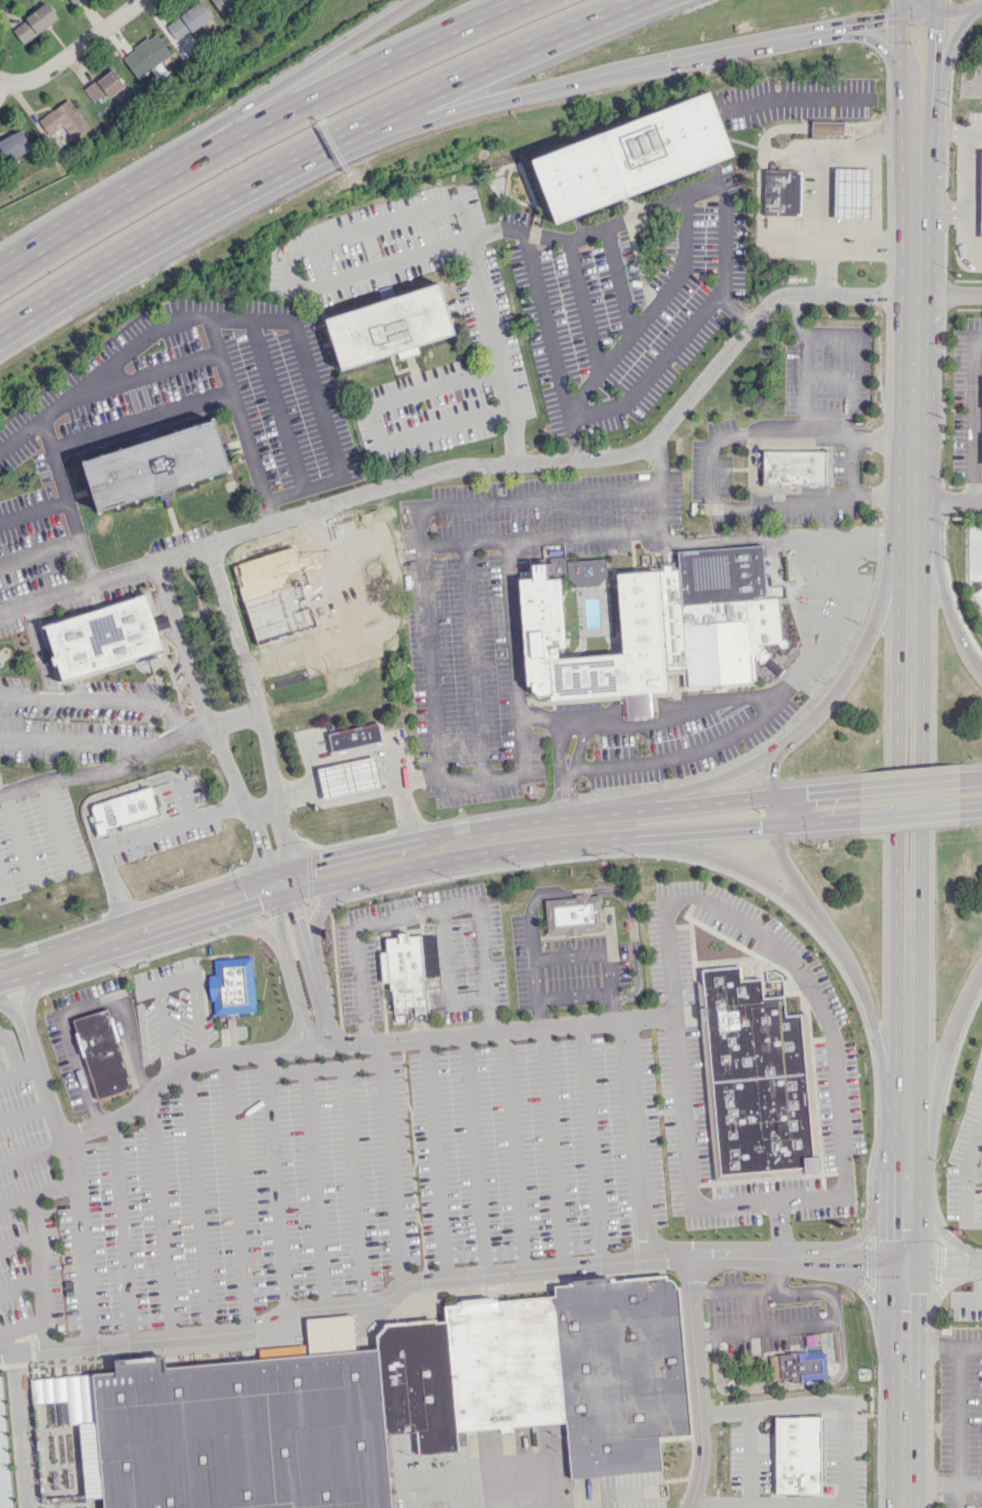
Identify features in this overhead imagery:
building: (74, 1)
road: (924, 1)
road: (927, 1)
road: (935, 4)
building: (225, 5)
road: (930, 5)
road: (898, 8)
road: (912, 11)
road: (959, 12)
traffic signals: (885, 19)
building: (188, 20)
road: (865, 21)
building: (34, 23)
traffic signals: (934, 30)
road: (872, 40)
building: (185, 44)
road: (898, 44)
road: (949, 46)
road: (74, 50)
building: (145, 55)
road: (508, 56)
park: (974, 58)
road: (605, 72)
road: (290, 78)
road: (348, 80)
road: (0, 81)
building: (104, 85)
road: (974, 90)
road: (930, 95)
building: (63, 120)
road: (899, 128)
building: (827, 129)
road: (955, 132)
building: (13, 145)
building: (631, 156)
road: (967, 172)
road: (825, 186)
road: (696, 191)
building: (781, 193)
building: (852, 193)
gas station: (967, 195)
building: (980, 196)
road: (967, 215)
road: (185, 217)
road: (87, 221)
road: (496, 233)
road: (868, 247)
road: (292, 259)
road: (624, 277)
road: (947, 295)
road: (590, 303)
road: (649, 314)
building: (390, 326)
road: (550, 345)
road: (497, 350)
road: (912, 354)
road: (305, 356)
road: (850, 360)
road: (654, 369)
road: (156, 371)
road: (99, 373)
road: (275, 404)
road: (972, 416)
road: (238, 420)
road: (140, 421)
road: (378, 423)
road: (882, 437)
road: (854, 438)
road: (718, 439)
building: (156, 465)
building: (794, 467)
road: (481, 468)
road: (302, 488)
road: (882, 492)
road: (840, 497)
road: (66, 499)
road: (519, 500)
road: (946, 500)
road: (33, 513)
road: (539, 538)
road: (708, 542)
road: (40, 553)
road: (909, 587)
road: (807, 601)
road: (945, 602)
road: (514, 628)
building: (590, 632)
building: (104, 637)
road: (862, 646)
road: (35, 651)
road: (429, 661)
road: (473, 662)
road: (793, 681)
road: (100, 701)
road: (258, 716)
road: (553, 719)
road: (921, 719)
road: (896, 720)
road: (212, 730)
building: (354, 737)
road: (72, 741)
road: (557, 745)
road: (579, 747)
road: (678, 756)
road: (131, 760)
road: (391, 762)
gas station: (351, 770)
traffic signals: (770, 775)
road: (507, 777)
building: (348, 778)
road: (416, 778)
road: (970, 778)
road: (908, 783)
road: (692, 785)
road: (107, 792)
road: (294, 792)
road: (565, 792)
traffic signals: (805, 792)
road: (774, 794)
road: (183, 800)
road: (259, 801)
road: (711, 803)
road: (970, 809)
building: (123, 810)
road: (405, 812)
road: (908, 815)
road: (839, 820)
road: (800, 823)
road: (55, 826)
traffic signals: (759, 827)
road: (564, 829)
road: (671, 833)
road: (129, 837)
road: (17, 838)
road: (376, 846)
road: (779, 852)
traffic signals: (261, 854)
traffic signals: (318, 860)
road: (379, 871)
road: (920, 879)
road: (895, 880)
traffic signals: (259, 902)
road: (625, 904)
building: (573, 914)
traffic signals: (295, 917)
road: (406, 918)
road: (819, 922)
road: (248, 923)
road: (115, 935)
road: (531, 938)
road: (482, 948)
road: (569, 957)
road: (17, 967)
road: (310, 969)
parking lot: (562, 969)
building: (403, 971)
road: (290, 972)
road: (27, 985)
building: (233, 986)
road: (200, 999)
road: (9, 1002)
road: (84, 1009)
road: (164, 1010)
road: (360, 1044)
road: (906, 1044)
road: (944, 1047)
building: (103, 1055)
road: (14, 1060)
road: (324, 1068)
road: (28, 1069)
building: (758, 1077)
road: (845, 1113)
road: (25, 1114)
parking lot: (417, 1122)
road: (979, 1132)
road: (592, 1145)
road: (906, 1145)
road: (552, 1149)
road: (31, 1151)
road: (514, 1152)
road: (636, 1152)
road: (476, 1155)
road: (435, 1159)
parking lot: (967, 1160)
road: (967, 1163)
road: (391, 1165)
road: (72, 1172)
road: (973, 1175)
road: (276, 1181)
road: (354, 1185)
road: (313, 1189)
road: (37, 1193)
road: (236, 1193)
road: (198, 1202)
road: (878, 1212)
road: (932, 1217)
road: (160, 1218)
road: (779, 1229)
road: (124, 1232)
road: (19, 1243)
road: (842, 1252)
road: (905, 1253)
road: (943, 1257)
traffic signals: (905, 1261)
road: (841, 1268)
road: (943, 1272)
road: (40, 1281)
road: (20, 1287)
road: (730, 1291)
road: (387, 1293)
road: (873, 1301)
road: (929, 1305)
road: (827, 1323)
road: (45, 1337)
road: (943, 1345)
building: (798, 1365)
building: (547, 1372)
road: (698, 1384)
road: (779, 1384)
road: (903, 1426)
road: (959, 1426)
building: (250, 1430)
road: (22, 1431)
building: (65, 1440)
building: (798, 1455)
road: (749, 1457)
road: (846, 1458)
road: (942, 1484)

